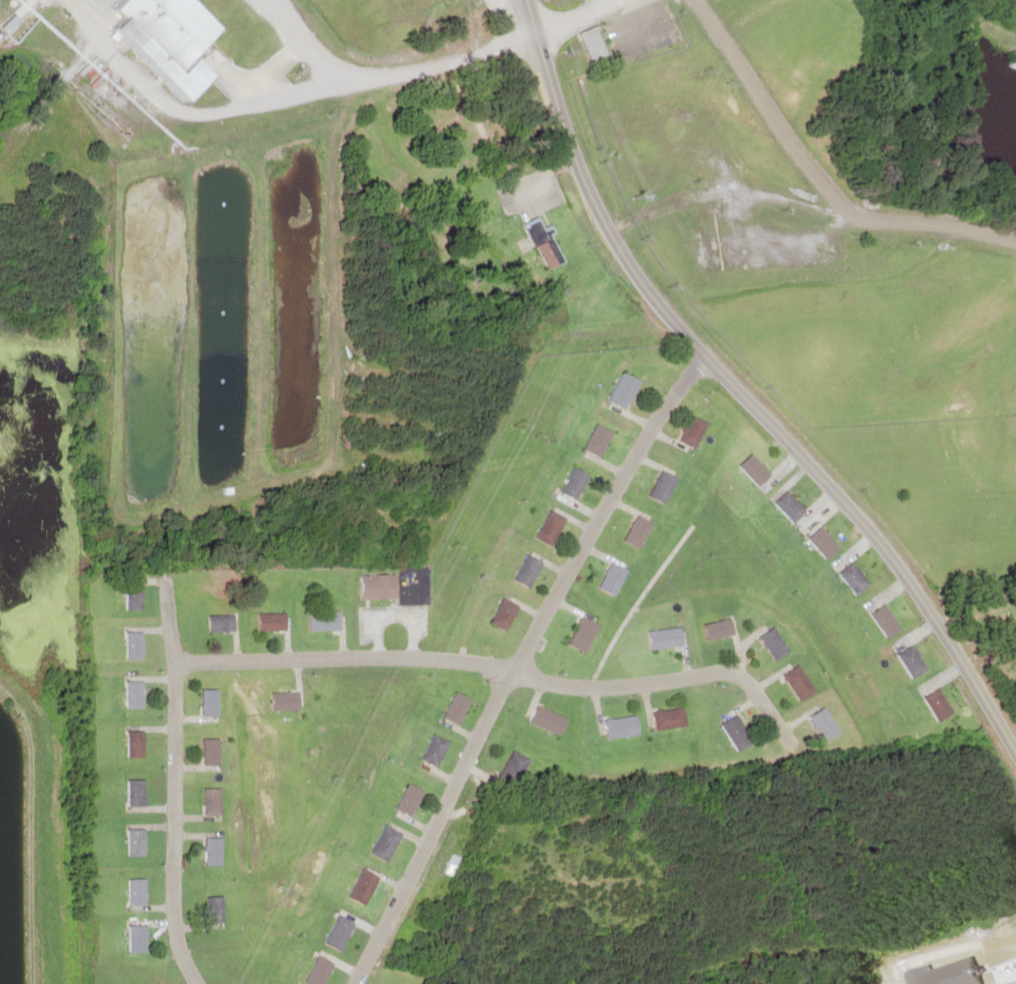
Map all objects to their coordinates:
building: (172, 39)
road: (299, 41)
building: (593, 44)
road: (278, 96)
building: (539, 241)
building: (626, 388)
road: (738, 394)
building: (694, 429)
building: (600, 439)
building: (756, 468)
building: (576, 481)
building: (665, 484)
building: (791, 504)
building: (551, 526)
building: (640, 530)
building: (825, 541)
building: (528, 569)
building: (615, 576)
building: (855, 576)
building: (380, 586)
building: (133, 599)
building: (505, 613)
building: (886, 619)
building: (325, 620)
building: (271, 621)
building: (219, 622)
building: (721, 629)
building: (584, 633)
building: (666, 637)
building: (775, 643)
building: (133, 645)
building: (912, 661)
road: (515, 664)
road: (499, 667)
building: (800, 682)
building: (134, 694)
building: (283, 700)
building: (207, 701)
building: (939, 704)
building: (457, 706)
building: (670, 717)
building: (549, 719)
building: (824, 723)
building: (622, 725)
building: (737, 732)
building: (135, 743)
building: (434, 749)
building: (209, 751)
building: (514, 766)
building: (135, 792)
building: (409, 799)
building: (210, 800)
road: (170, 825)
building: (137, 841)
building: (385, 843)
building: (211, 851)
building: (363, 886)
building: (138, 891)
building: (213, 909)
building: (338, 932)
building: (137, 938)
building: (317, 971)

